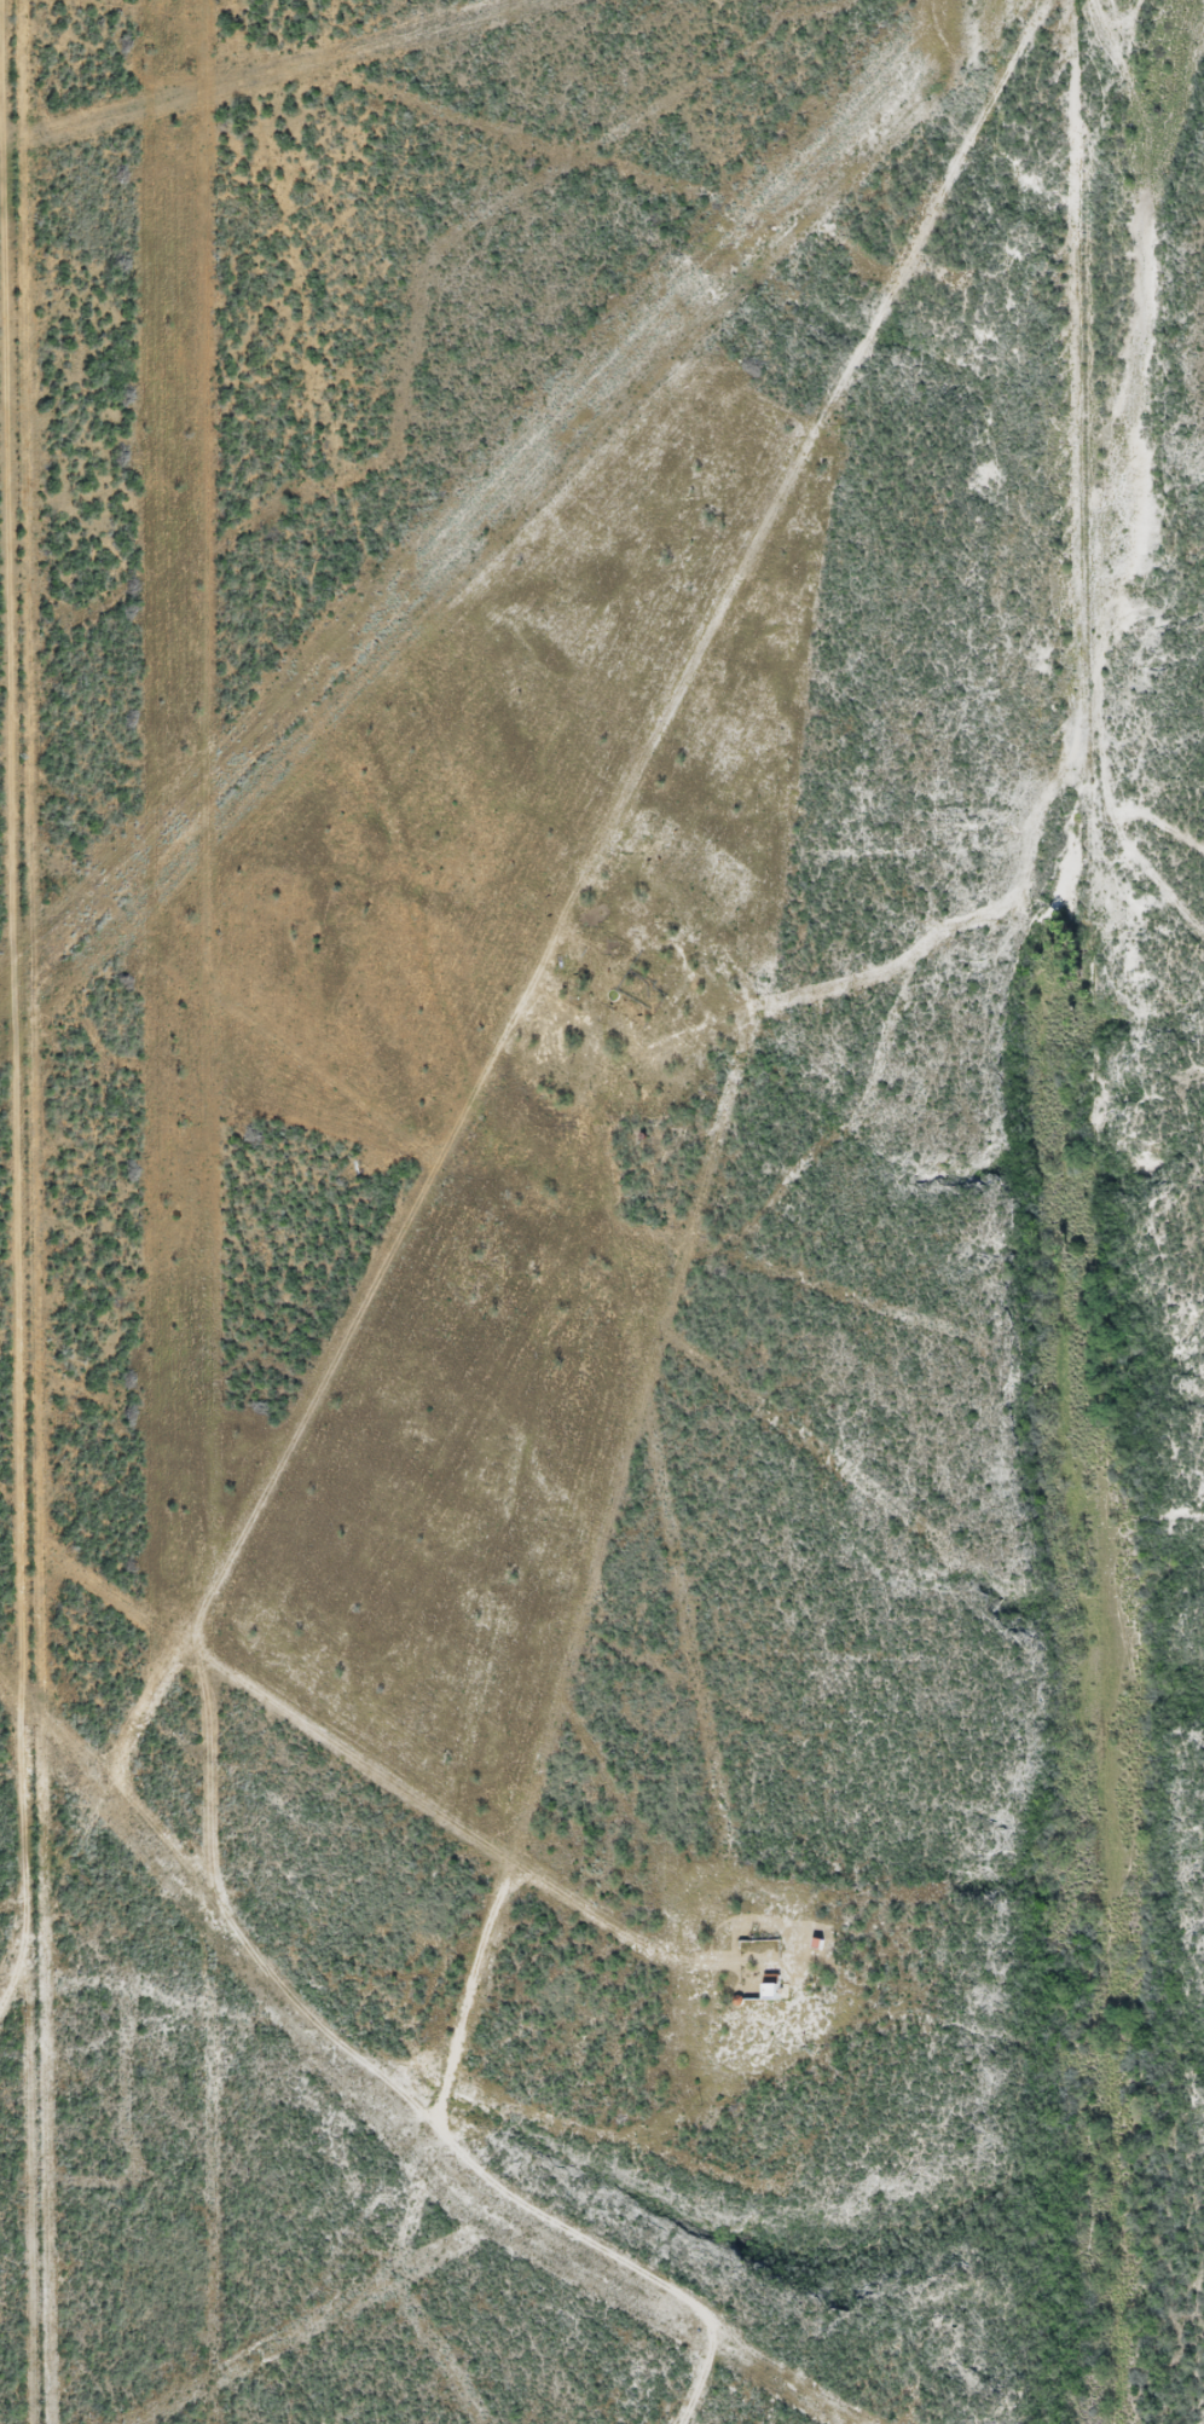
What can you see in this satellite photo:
road: (164, 1776)
road: (447, 1800)
building: (772, 1986)

